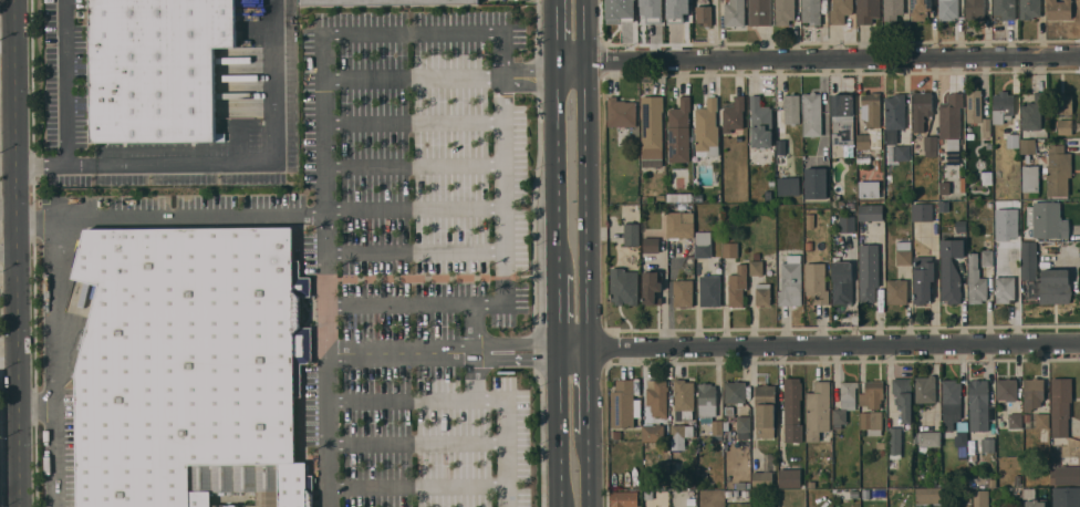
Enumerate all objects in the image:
building: (381, 2)
building: (677, 8)
building: (893, 9)
building: (920, 9)
building: (947, 9)
building: (974, 9)
building: (1005, 9)
building: (1029, 9)
building: (1059, 9)
building: (617, 10)
building: (653, 11)
building: (783, 11)
building: (811, 11)
building: (840, 11)
building: (868, 11)
building: (759, 12)
building: (734, 13)
building: (704, 14)
road: (7, 24)
road: (366, 33)
road: (555, 38)
road: (816, 59)
building: (156, 68)
road: (413, 76)
road: (529, 76)
road: (65, 83)
building: (791, 108)
building: (921, 110)
building: (976, 110)
building: (1003, 111)
building: (894, 112)
building: (1032, 112)
building: (1063, 112)
building: (812, 114)
building: (621, 115)
building: (734, 116)
building: (952, 121)
road: (413, 122)
building: (842, 122)
building: (870, 122)
building: (760, 123)
building: (652, 126)
building: (707, 127)
building: (679, 131)
building: (1043, 134)
building: (890, 136)
building: (969, 136)
building: (1012, 141)
building: (930, 143)
building: (1028, 146)
building: (781, 147)
building: (903, 153)
road: (250, 164)
road: (414, 165)
road: (41, 166)
building: (1058, 169)
road: (583, 174)
road: (557, 175)
building: (1030, 176)
building: (771, 183)
building: (816, 183)
building: (788, 186)
building: (869, 188)
building: (768, 195)
building: (679, 197)
building: (837, 197)
building: (850, 206)
building: (944, 206)
road: (8, 208)
road: (415, 209)
building: (923, 211)
building: (871, 213)
building: (810, 220)
building: (1047, 220)
road: (39, 221)
building: (848, 224)
building: (679, 225)
building: (960, 226)
road: (61, 228)
building: (632, 235)
road: (325, 242)
building: (651, 245)
building: (703, 245)
building: (809, 246)
parking lot: (424, 248)
building: (730, 250)
road: (17, 252)
road: (415, 252)
building: (904, 252)
building: (1012, 253)
road: (8, 256)
building: (757, 256)
building: (987, 258)
building: (1029, 259)
building: (756, 267)
building: (951, 270)
building: (868, 272)
building: (923, 278)
building: (976, 280)
building: (816, 282)
building: (842, 282)
building: (790, 283)
building: (624, 286)
building: (737, 286)
building: (652, 287)
building: (1055, 287)
road: (326, 288)
building: (1005, 289)
building: (710, 291)
building: (896, 291)
building: (683, 293)
building: (762, 293)
road: (506, 300)
road: (559, 311)
road: (326, 325)
road: (481, 327)
road: (519, 341)
road: (819, 346)
road: (404, 352)
road: (520, 359)
building: (190, 366)
building: (1006, 389)
building: (925, 390)
road: (586, 391)
building: (735, 392)
building: (1032, 393)
building: (872, 394)
building: (657, 397)
building: (903, 397)
building: (684, 399)
building: (706, 400)
road: (405, 401)
building: (844, 403)
building: (624, 405)
building: (952, 405)
building: (978, 405)
building: (1060, 405)
road: (40, 406)
building: (765, 410)
building: (791, 411)
building: (818, 411)
road: (507, 416)
building: (1015, 421)
building: (1036, 421)
building: (871, 422)
building: (725, 426)
road: (329, 427)
road: (560, 427)
building: (744, 427)
building: (717, 430)
building: (653, 433)
building: (616, 434)
building: (679, 435)
building: (894, 439)
building: (928, 439)
building: (962, 439)
road: (417, 443)
building: (881, 445)
building: (988, 445)
building: (665, 452)
building: (1053, 456)
building: (979, 457)
road: (588, 470)
building: (765, 473)
building: (1066, 475)
building: (790, 478)
building: (991, 483)
building: (690, 484)
building: (811, 484)
building: (740, 485)
road: (418, 487)
building: (728, 493)
building: (735, 493)
building: (745, 493)
building: (880, 494)
building: (648, 495)
building: (927, 496)
building: (1066, 497)
building: (980, 498)
building: (624, 499)
building: (690, 501)
building: (1036, 503)

